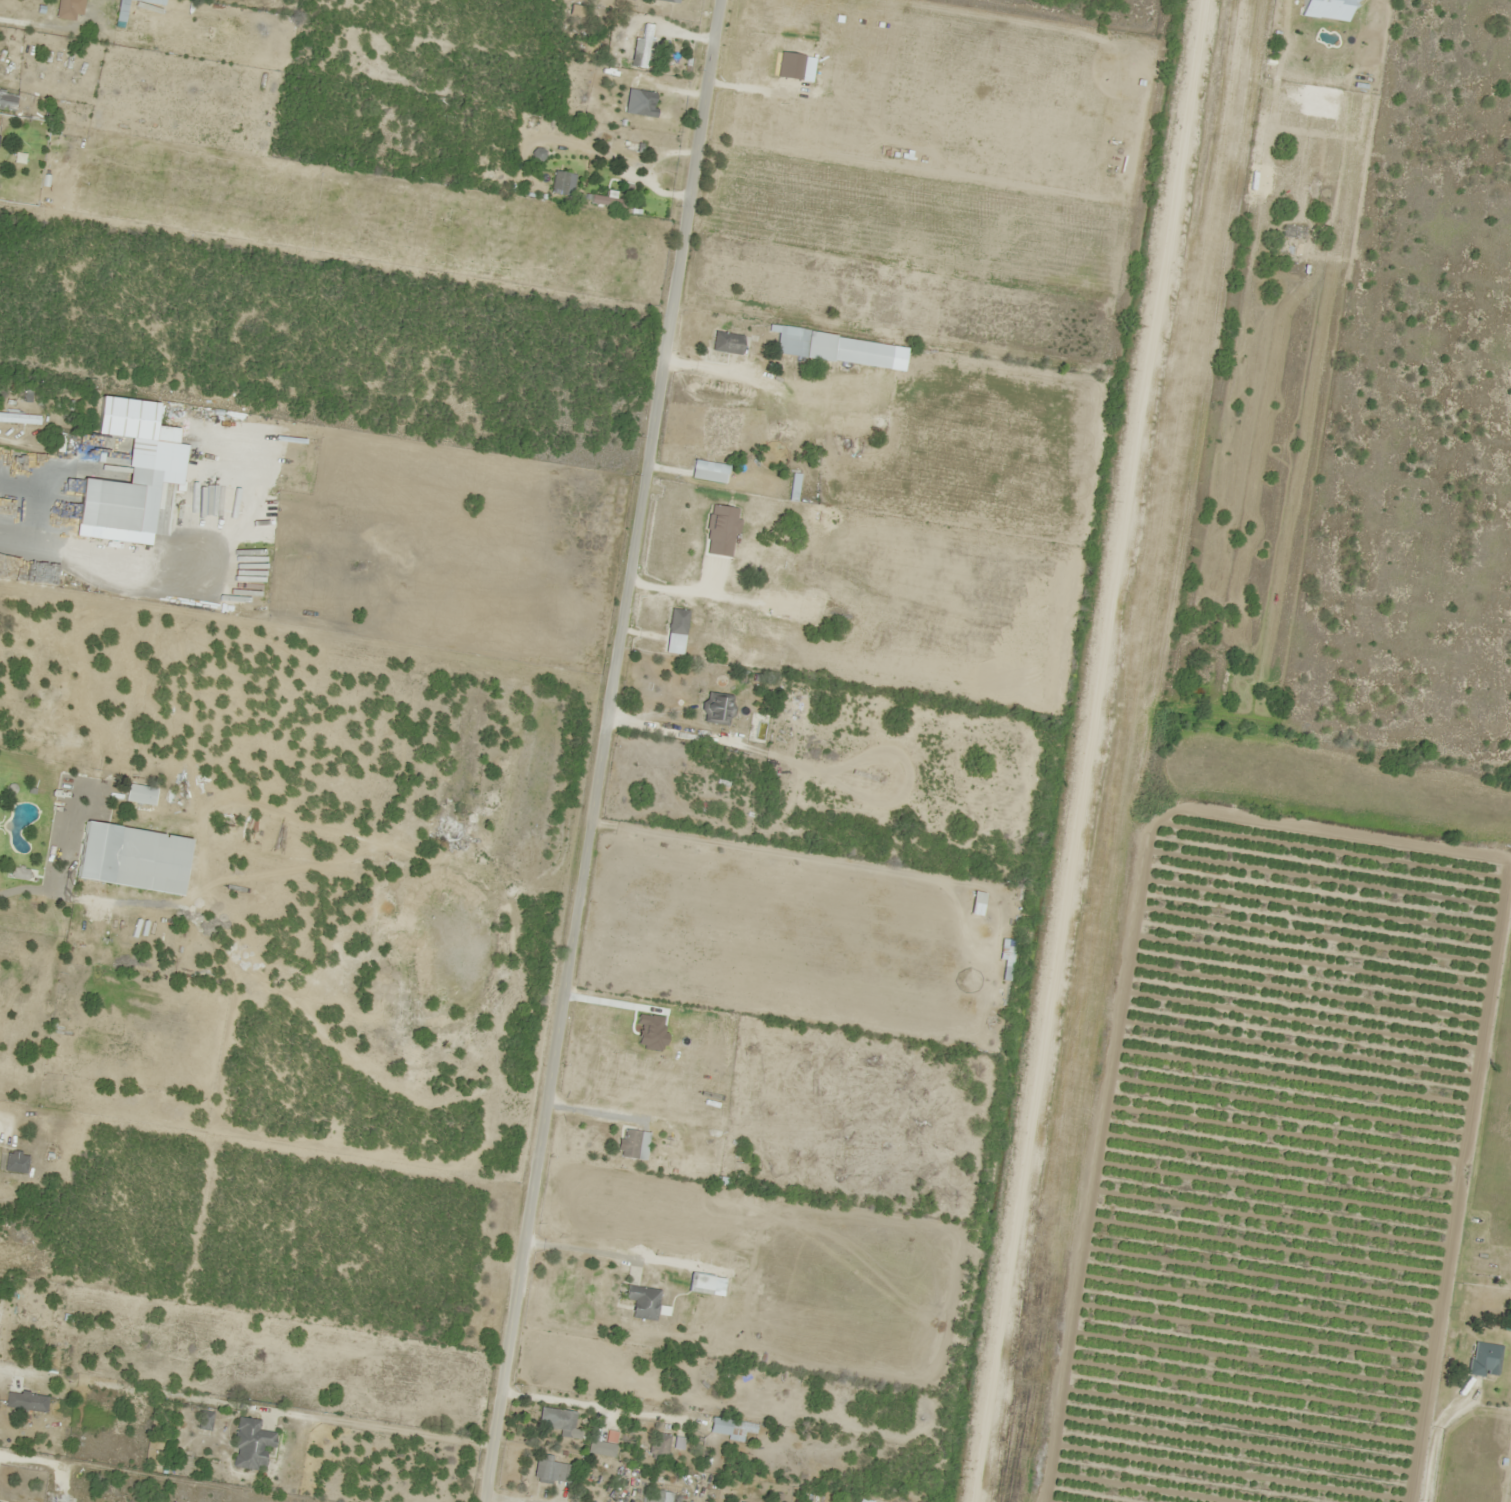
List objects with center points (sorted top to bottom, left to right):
building: (156, 1)
building: (668, 1)
building: (124, 8)
building: (1311, 8)
building: (67, 9)
building: (639, 49)
building: (8, 99)
building: (642, 103)
building: (558, 182)
building: (607, 201)
building: (1291, 231)
building: (726, 343)
building: (803, 343)
building: (20, 418)
building: (707, 471)
building: (122, 502)
building: (108, 560)
building: (675, 629)
building: (715, 709)
road: (603, 750)
railway: (1173, 751)
building: (137, 795)
building: (128, 858)
building: (633, 1145)
building: (17, 1161)
building: (698, 1284)
building: (640, 1301)
building: (1483, 1359)
building: (27, 1401)
building: (202, 1421)
building: (554, 1422)
building: (729, 1427)
building: (248, 1443)
building: (603, 1445)
building: (657, 1446)
building: (551, 1471)
building: (659, 1493)

